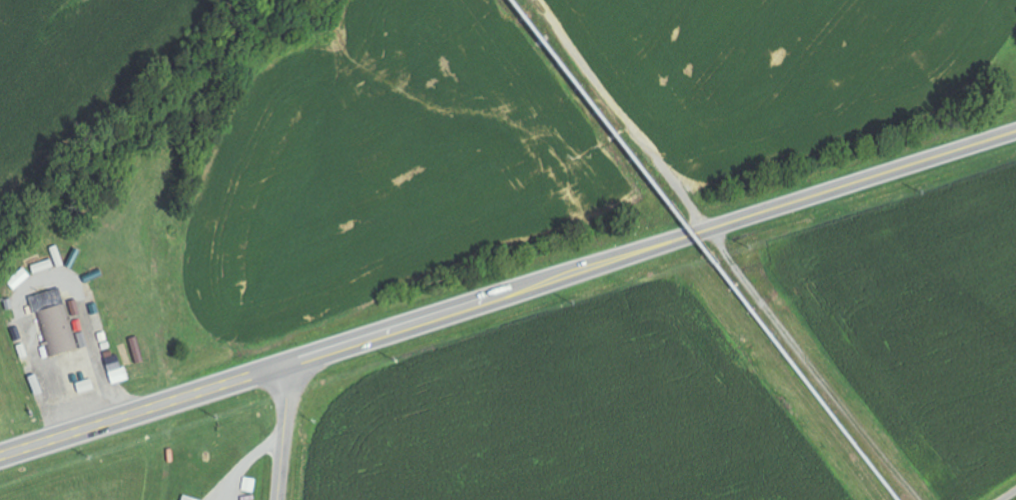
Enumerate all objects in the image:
road: (507, 292)
building: (58, 330)
building: (117, 369)
building: (86, 386)
road: (283, 431)
road: (1008, 494)
building: (187, 498)

